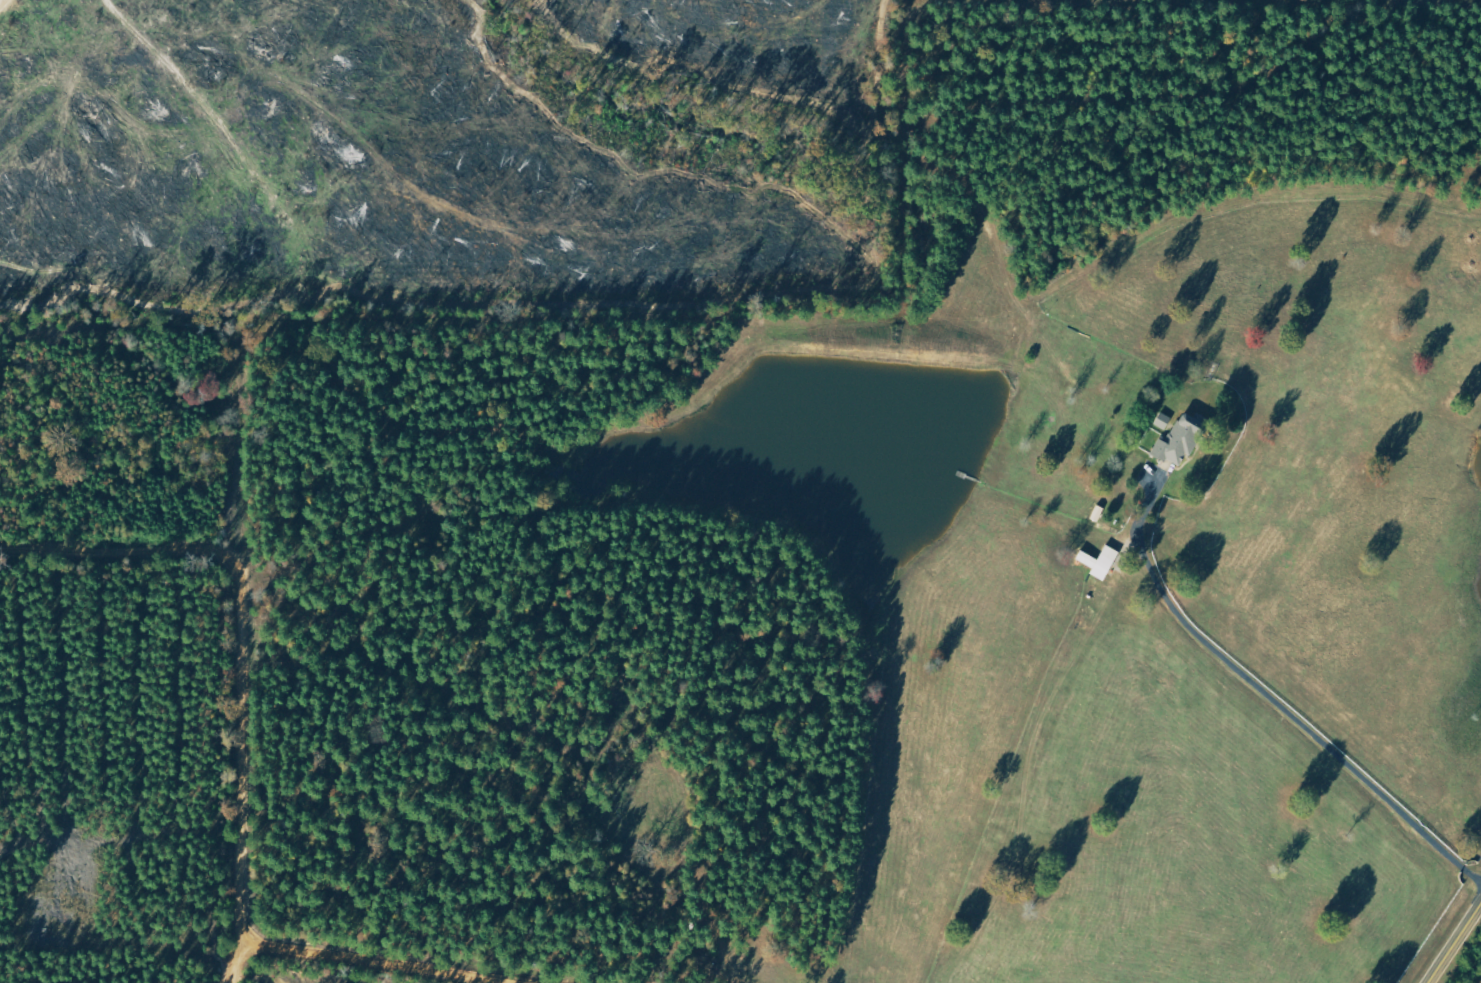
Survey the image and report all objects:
building: (1165, 421)
building: (1182, 440)
road: (210, 656)
road: (1270, 696)
road: (1455, 945)
road: (227, 948)
road: (413, 952)

